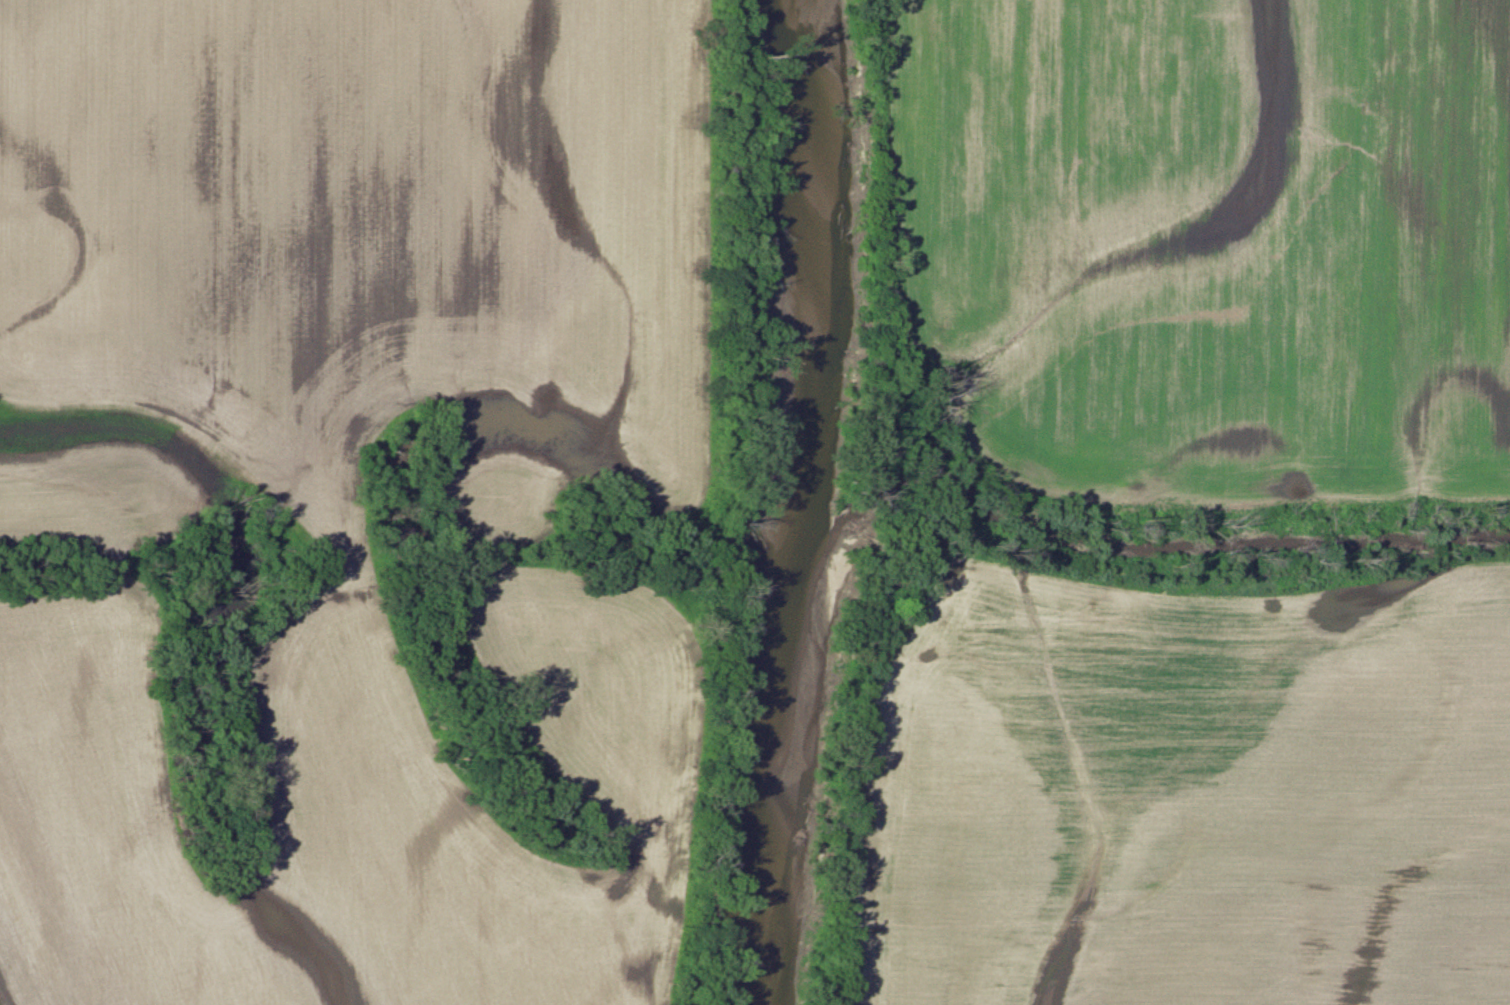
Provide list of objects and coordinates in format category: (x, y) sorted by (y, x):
crop: (1195, 795)

